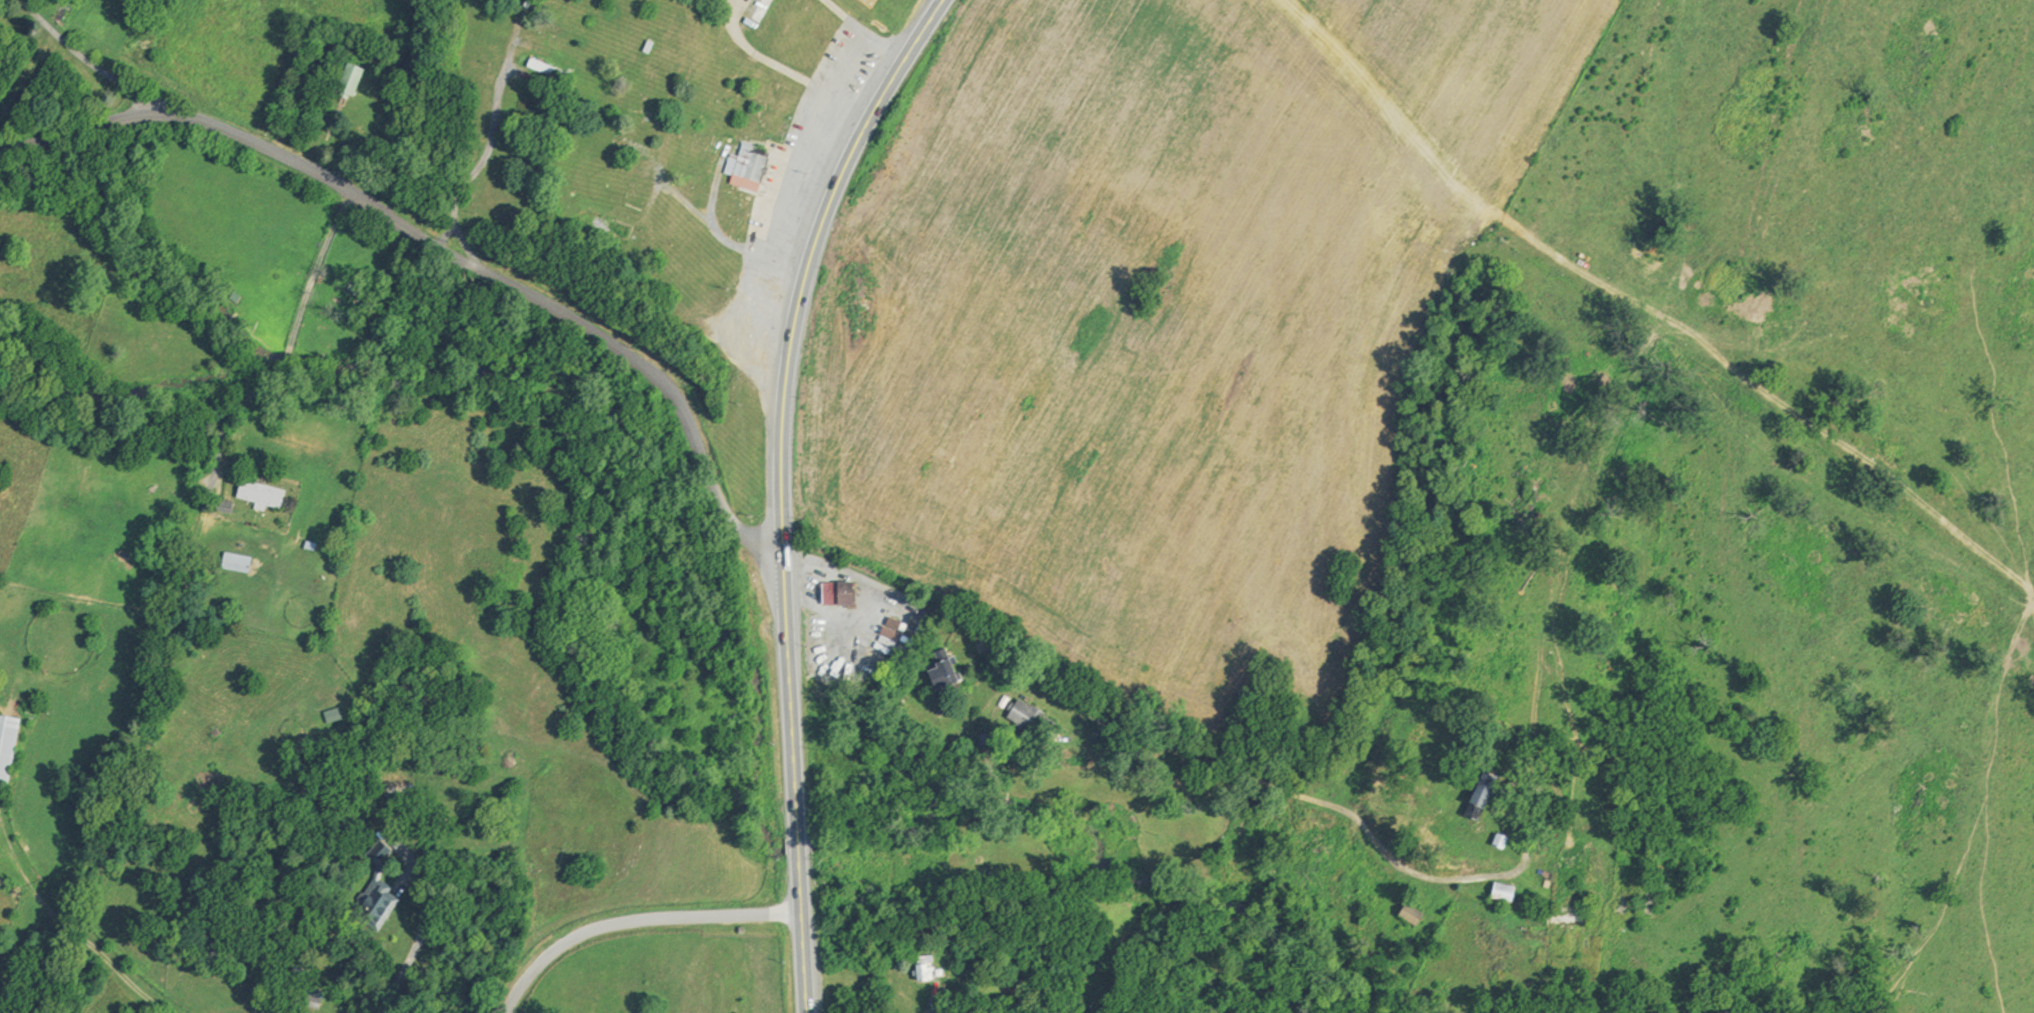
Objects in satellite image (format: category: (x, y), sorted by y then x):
building: (763, 8)
building: (564, 16)
road: (866, 30)
building: (560, 44)
road: (95, 64)
road: (786, 69)
building: (553, 71)
building: (358, 79)
building: (652, 120)
road: (495, 130)
building: (640, 147)
road: (1439, 157)
building: (753, 165)
road: (719, 183)
road: (662, 186)
building: (626, 187)
building: (610, 225)
road: (728, 237)
road: (439, 248)
road: (291, 349)
road: (783, 488)
building: (267, 493)
building: (242, 562)
building: (844, 592)
building: (950, 670)
building: (1037, 718)
building: (10, 745)
road: (1162, 747)
building: (1492, 791)
building: (1507, 839)
building: (383, 851)
building: (1510, 891)
building: (386, 904)
building: (1415, 917)
building: (1576, 917)
road: (61, 920)
road: (636, 922)
road: (420, 950)
building: (928, 967)
road: (935, 997)

